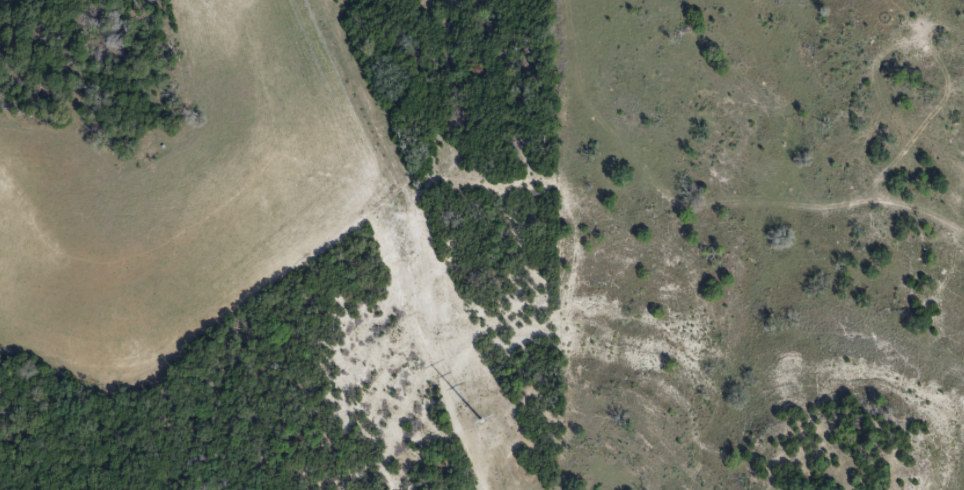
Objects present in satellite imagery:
power tower: (480, 420)

